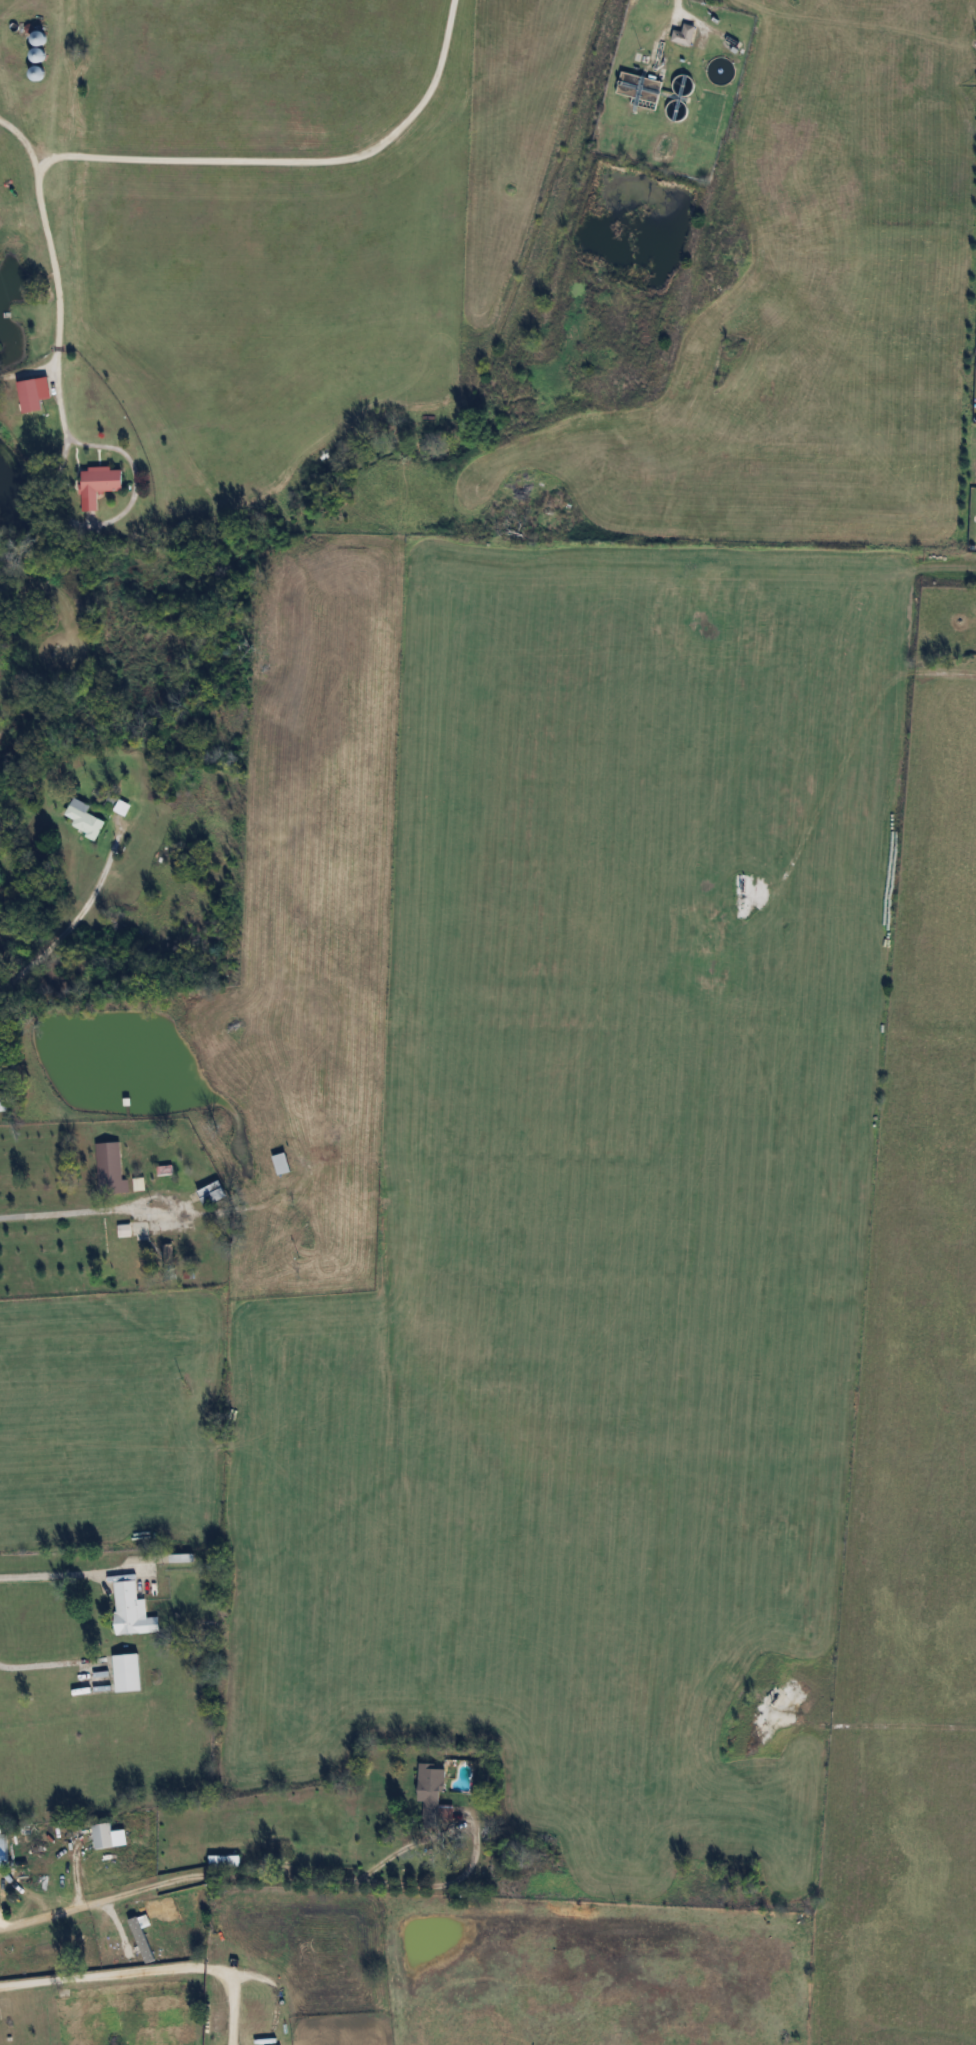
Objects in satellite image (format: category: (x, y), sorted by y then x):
building: (684, 34)
building: (39, 55)
building: (38, 73)
road: (48, 261)
building: (31, 394)
building: (99, 484)
road: (75, 523)
building: (85, 818)
road: (74, 920)
building: (282, 1164)
building: (111, 1168)
building: (213, 1194)
road: (74, 1210)
building: (187, 1245)
building: (127, 1247)
road: (65, 1572)
building: (132, 1611)
road: (37, 1665)
building: (128, 1673)
building: (433, 1793)
building: (108, 1836)
building: (224, 1861)
road: (209, 1874)
building: (27, 1889)
building: (50, 1947)
road: (153, 1968)
building: (0, 2038)

